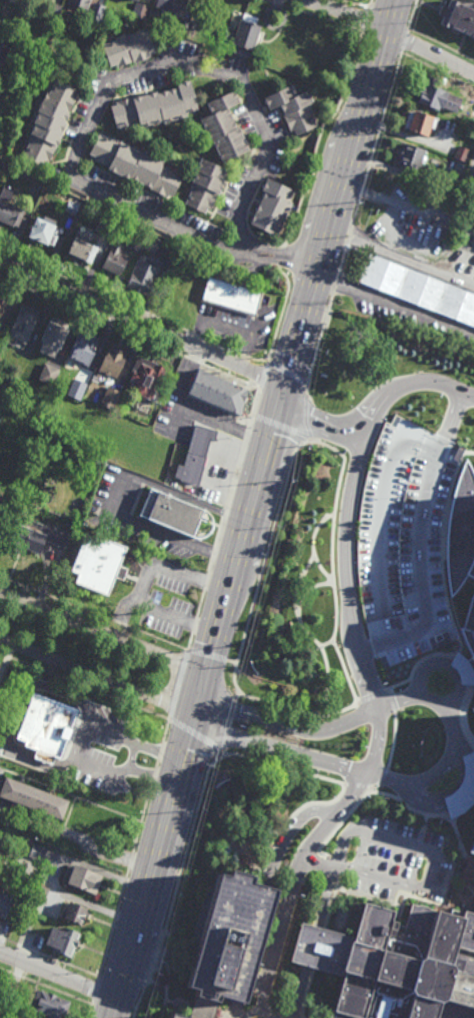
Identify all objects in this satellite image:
building: (136, 0)
building: (15, 1)
road: (467, 2)
building: (81, 3)
road: (370, 3)
building: (171, 4)
power tower: (416, 9)
building: (52, 10)
building: (99, 10)
building: (141, 10)
road: (344, 13)
road: (390, 14)
road: (413, 15)
building: (458, 17)
road: (366, 19)
building: (183, 26)
building: (243, 31)
road: (405, 41)
road: (442, 44)
building: (129, 48)
road: (430, 50)
building: (3, 53)
building: (245, 55)
building: (82, 58)
road: (438, 72)
building: (1, 95)
building: (438, 96)
building: (156, 106)
building: (293, 109)
road: (383, 120)
building: (470, 121)
building: (50, 122)
building: (420, 122)
building: (223, 128)
building: (462, 131)
power tower: (378, 134)
road: (319, 138)
building: (461, 154)
building: (411, 158)
building: (136, 165)
building: (206, 186)
road: (361, 193)
road: (126, 196)
power tower: (358, 201)
building: (72, 207)
building: (271, 207)
building: (9, 209)
road: (407, 209)
road: (357, 212)
building: (107, 226)
building: (43, 231)
road: (350, 236)
building: (137, 243)
building: (152, 245)
building: (83, 248)
road: (400, 255)
road: (275, 256)
road: (281, 257)
building: (116, 259)
road: (341, 263)
building: (145, 277)
road: (334, 288)
building: (419, 290)
building: (233, 297)
road: (393, 306)
building: (3, 308)
road: (281, 314)
building: (23, 325)
road: (142, 325)
building: (55, 335)
building: (84, 349)
road: (316, 349)
power tower: (315, 351)
building: (113, 362)
road: (286, 373)
building: (49, 375)
road: (263, 375)
building: (148, 377)
building: (84, 383)
road: (405, 385)
building: (76, 389)
building: (216, 393)
traffic signals: (282, 394)
building: (111, 396)
road: (254, 406)
building: (40, 414)
road: (318, 420)
road: (306, 421)
road: (282, 427)
road: (247, 434)
building: (194, 453)
road: (235, 476)
power tower: (291, 477)
road: (115, 495)
building: (1, 508)
road: (248, 512)
building: (173, 513)
road: (225, 514)
road: (220, 532)
building: (38, 535)
building: (422, 548)
road: (214, 553)
building: (100, 562)
road: (264, 563)
road: (211, 567)
road: (206, 583)
road: (143, 585)
road: (201, 605)
road: (94, 615)
road: (195, 625)
road: (103, 634)
power tower: (246, 642)
road: (190, 643)
road: (207, 656)
road: (232, 663)
road: (446, 663)
building: (464, 670)
road: (96, 676)
traffic signals: (201, 683)
road: (179, 686)
road: (85, 687)
road: (374, 694)
road: (238, 697)
road: (393, 700)
road: (298, 713)
traffic signals: (192, 715)
road: (231, 726)
building: (46, 727)
road: (166, 732)
road: (197, 736)
road: (455, 737)
road: (395, 740)
road: (376, 741)
road: (157, 764)
road: (282, 767)
road: (382, 779)
road: (357, 786)
road: (460, 793)
building: (473, 797)
building: (34, 798)
power tower: (199, 808)
road: (346, 818)
road: (289, 834)
road: (75, 836)
road: (341, 848)
building: (38, 852)
road: (327, 858)
road: (320, 861)
road: (433, 871)
road: (338, 872)
building: (83, 879)
road: (125, 881)
road: (177, 882)
building: (40, 890)
building: (5, 906)
building: (76, 914)
building: (233, 939)
building: (64, 941)
road: (319, 948)
road: (49, 959)
building: (396, 964)
power tower: (155, 968)
road: (58, 974)
road: (168, 975)
road: (158, 984)
road: (259, 984)
road: (46, 986)
road: (96, 992)
road: (180, 1004)
building: (51, 1005)
road: (113, 1008)
building: (205, 1009)
road: (163, 1010)
road: (237, 1010)
road: (91, 1011)
road: (258, 1011)
road: (222, 1015)
building: (180, 1016)

